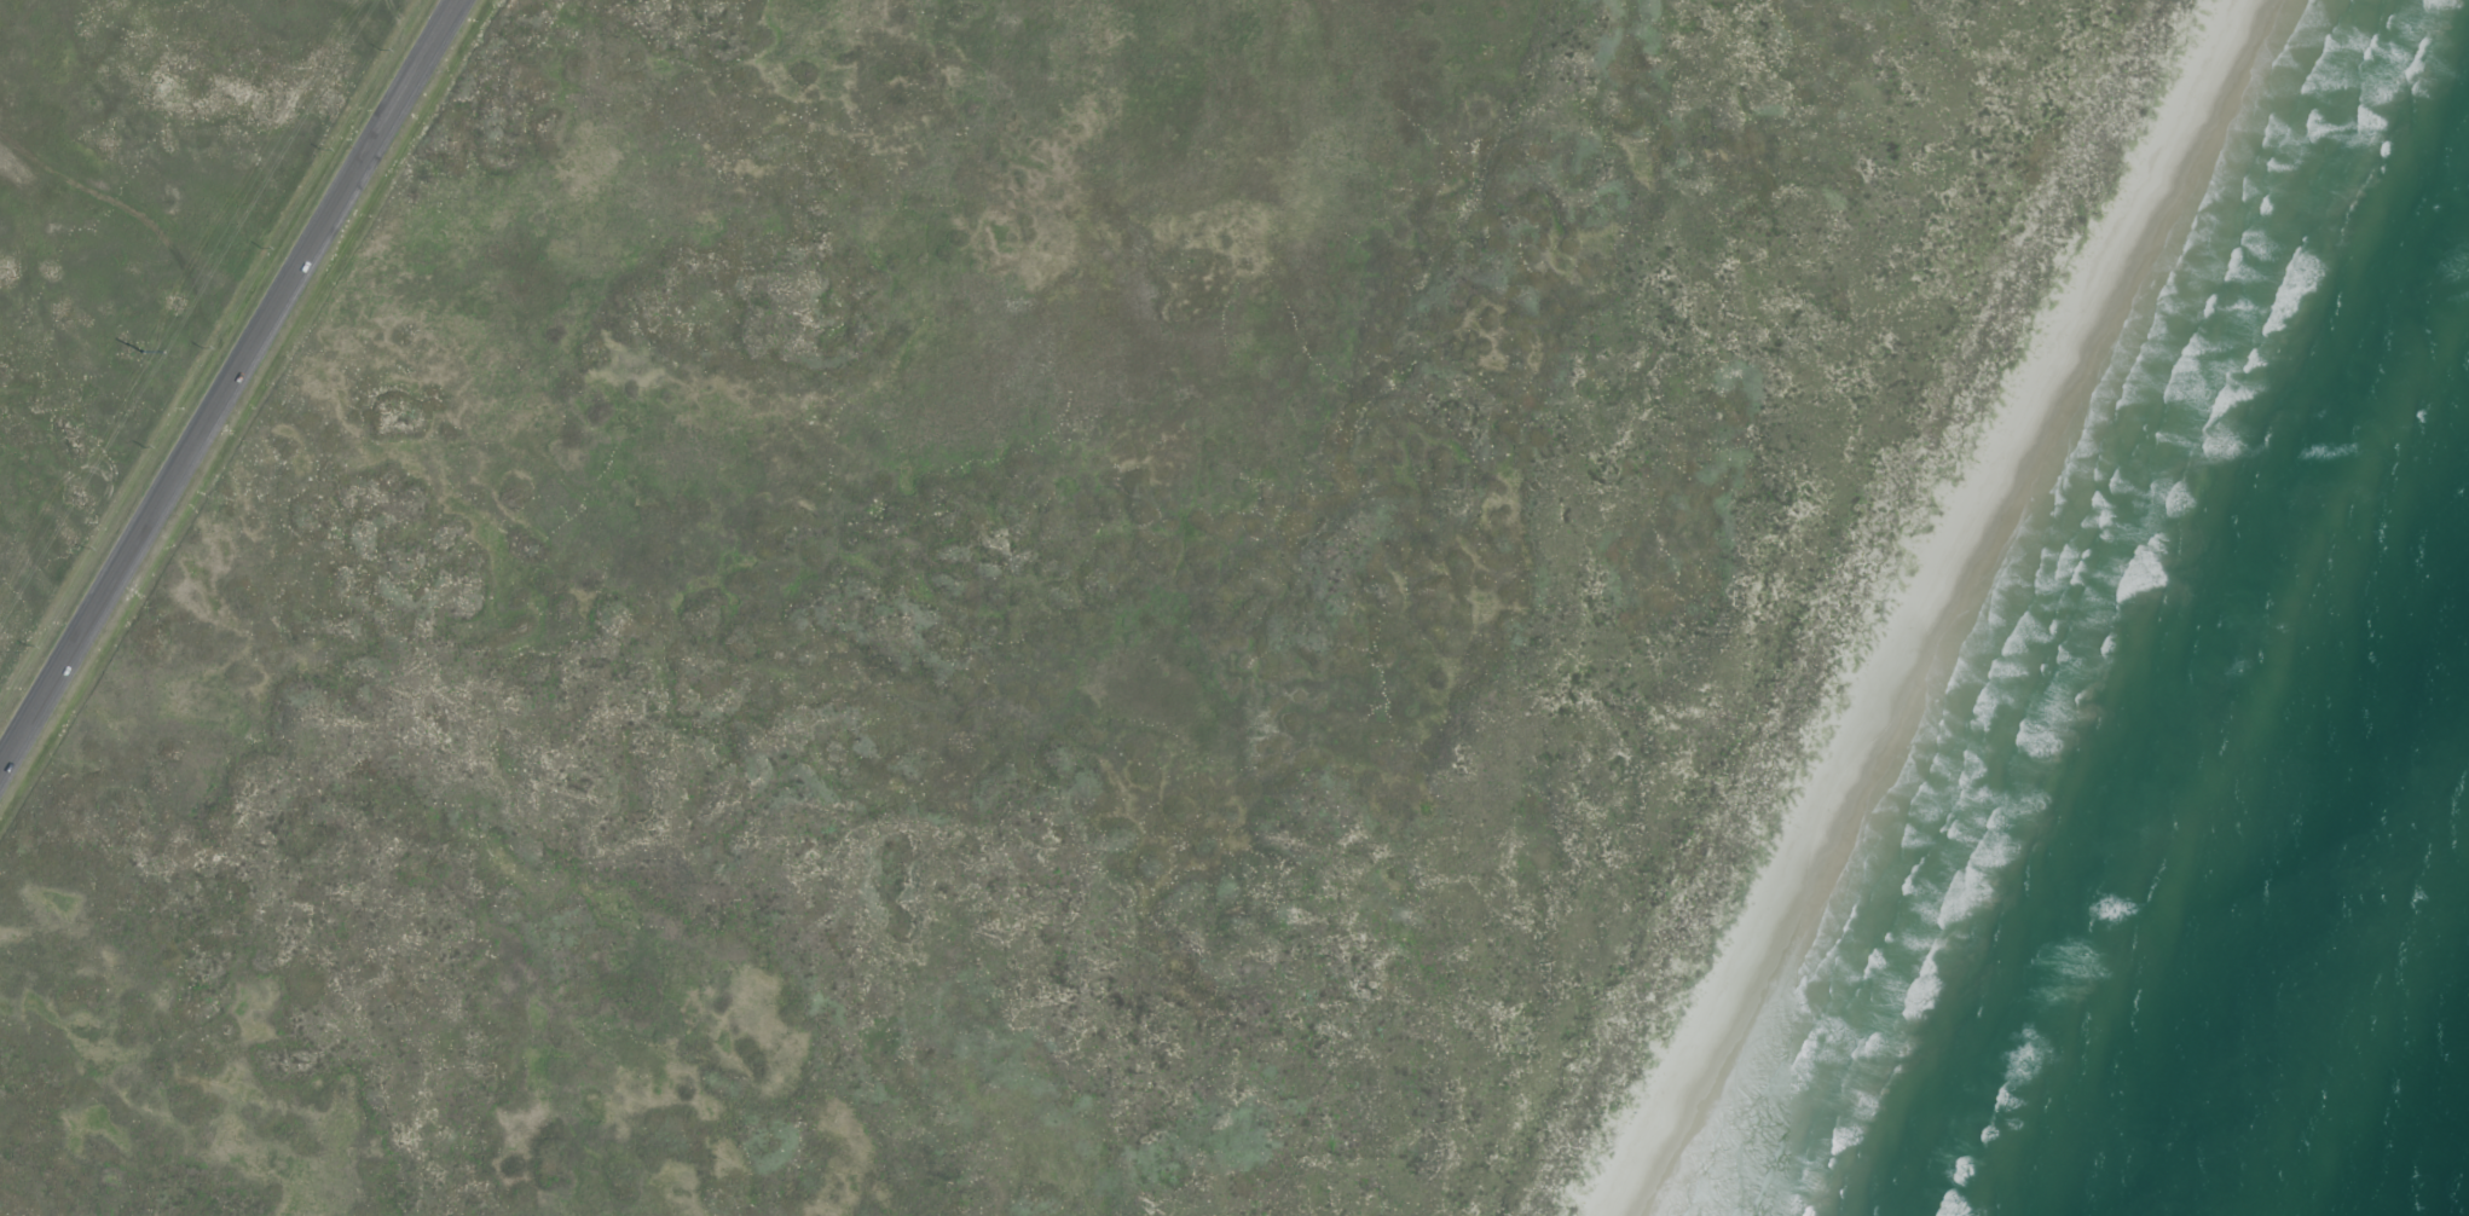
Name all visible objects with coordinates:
park: (137, 230)
power tower: (144, 353)
road: (233, 390)
park: (1247, 612)

